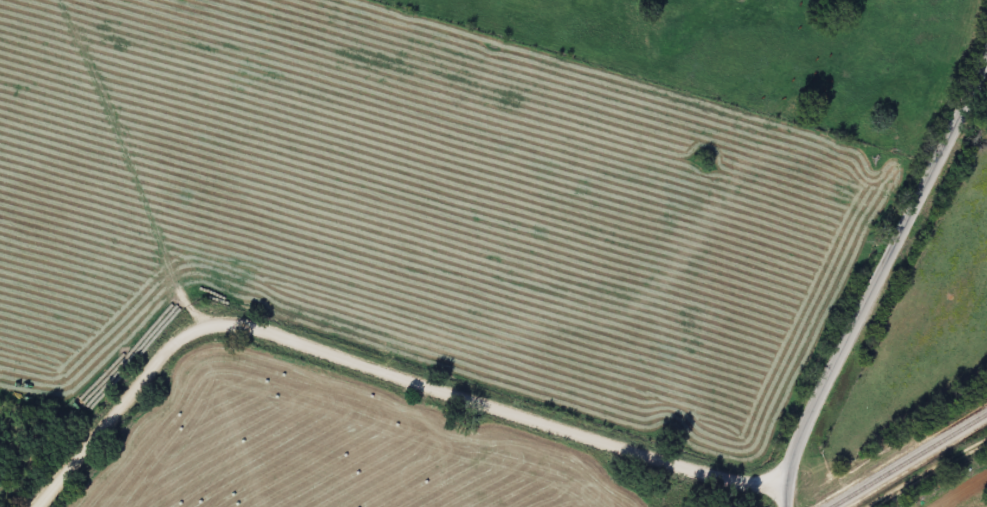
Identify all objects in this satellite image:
road: (883, 270)
road: (376, 369)
railway: (908, 460)
road: (784, 498)

